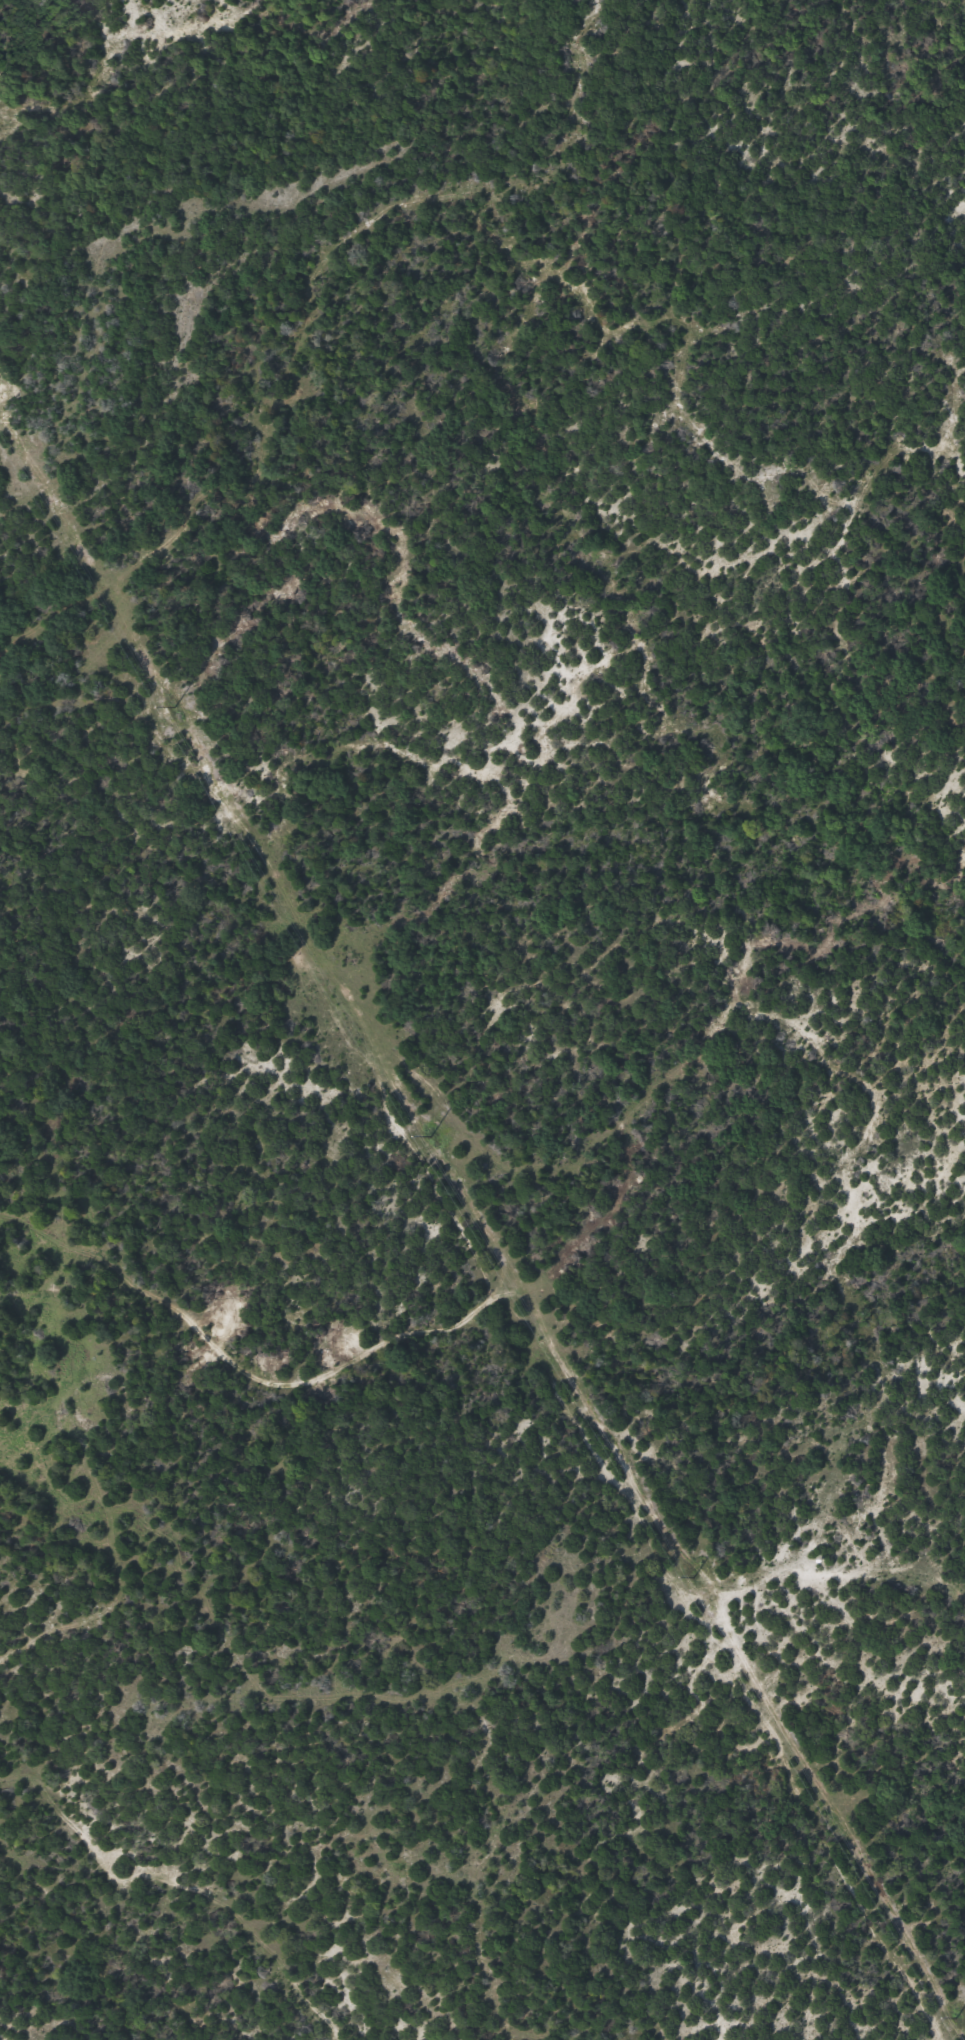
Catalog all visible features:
power tower: (175, 706)
power tower: (431, 1136)
power tower: (693, 1577)
power tower: (956, 2017)

